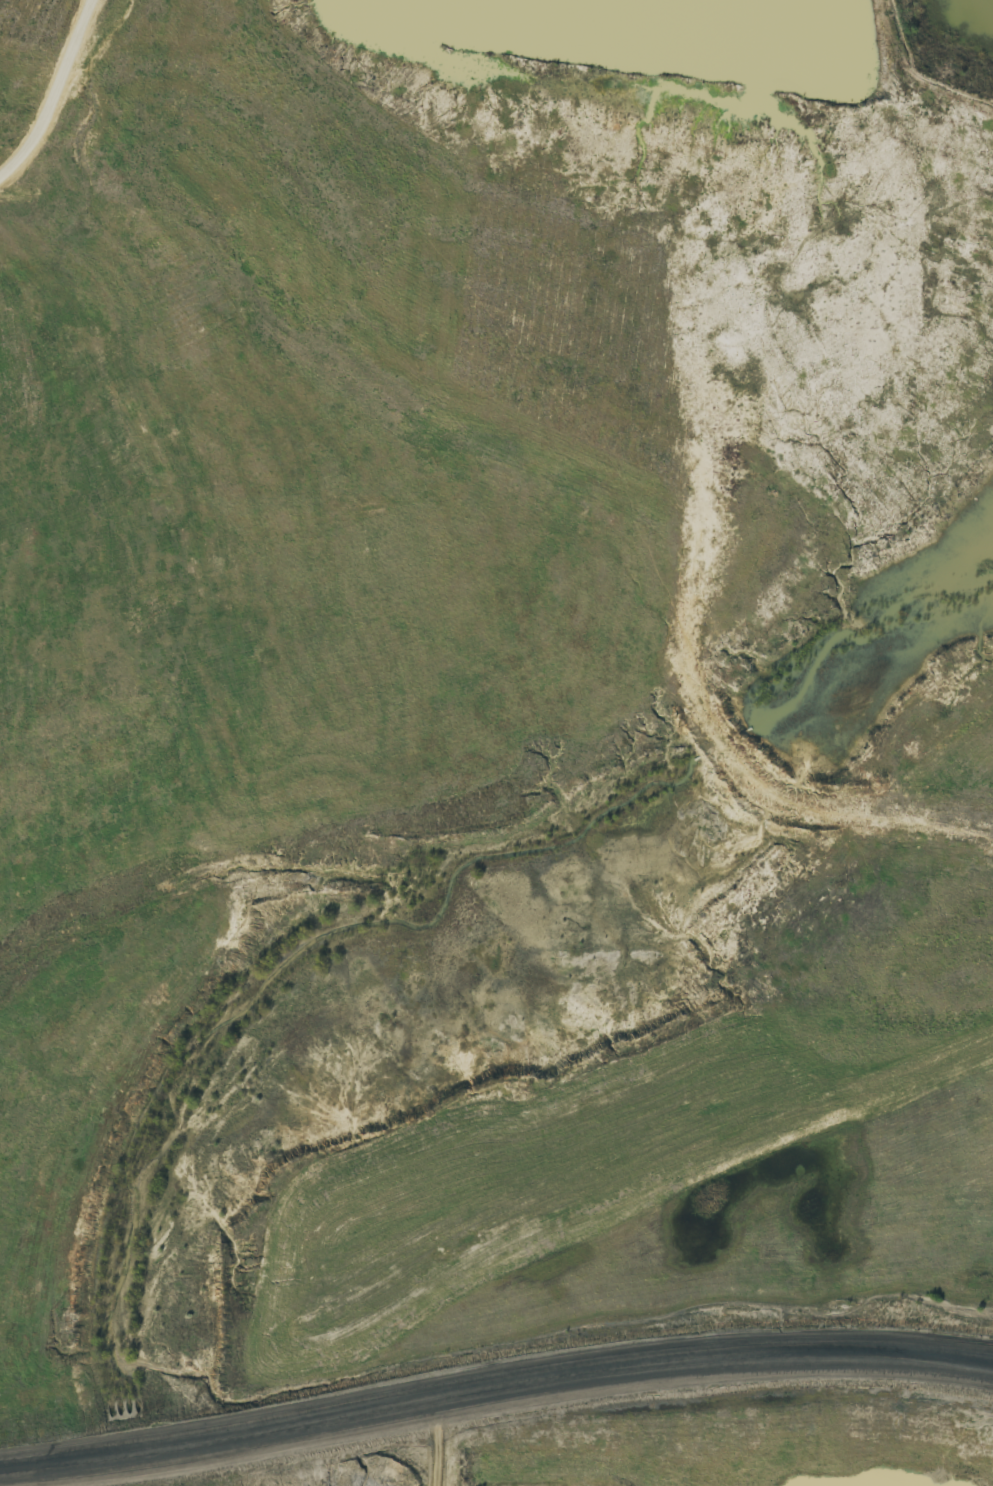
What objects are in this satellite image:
road: (57, 97)
quarry: (496, 743)
road: (331, 1459)

